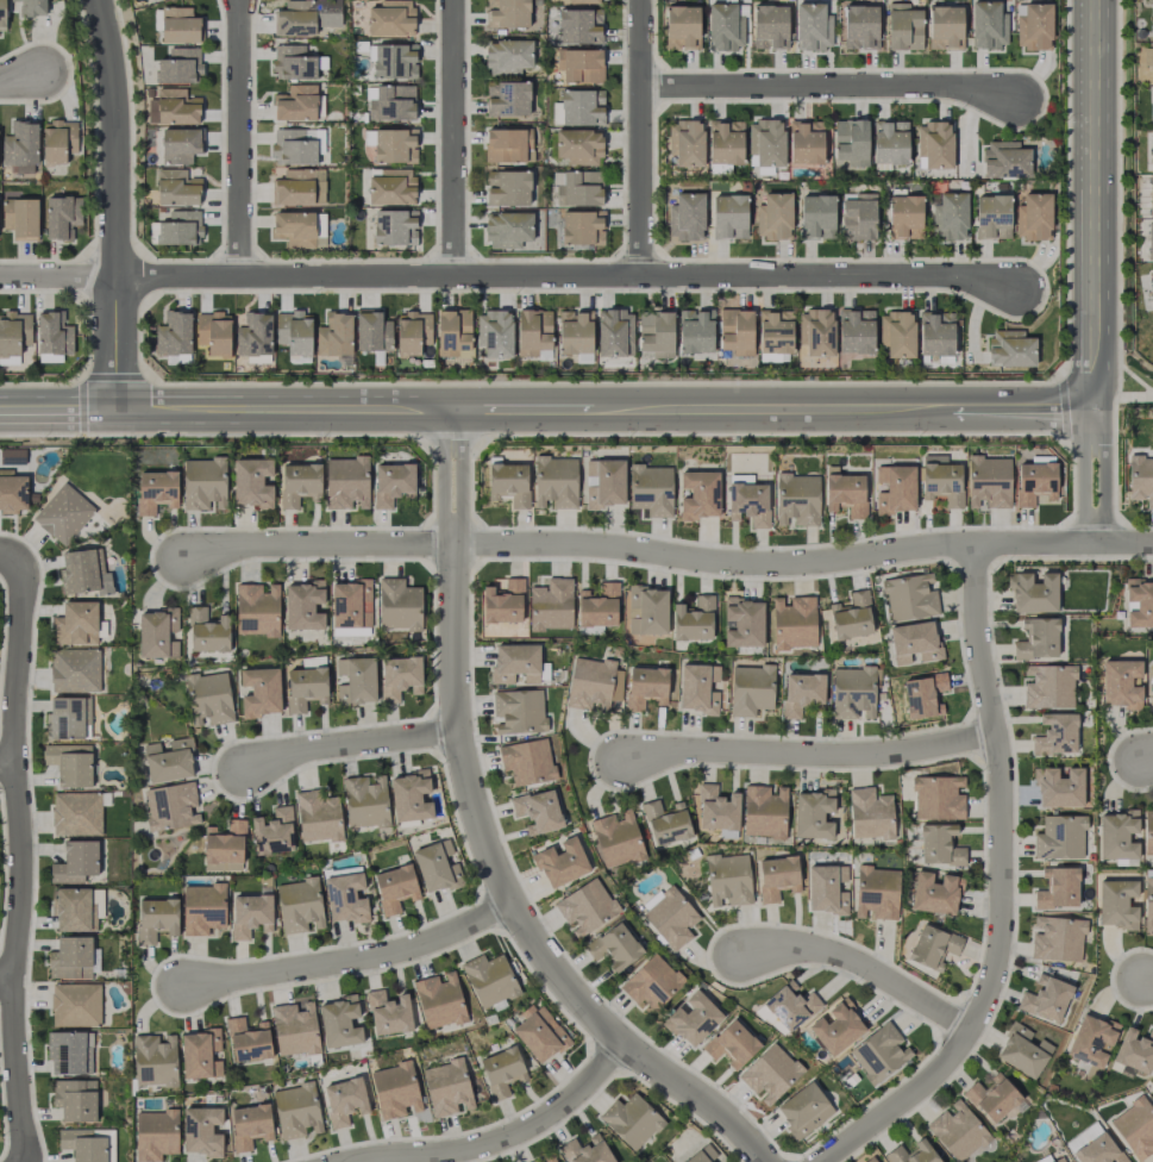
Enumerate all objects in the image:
building: (150, 0)
building: (584, 1)
building: (31, 7)
building: (507, 13)
building: (2, 17)
building: (295, 18)
building: (391, 18)
building: (1152, 18)
building: (178, 25)
building: (988, 25)
building: (1033, 25)
building: (579, 26)
building: (726, 26)
building: (770, 26)
building: (813, 26)
building: (860, 26)
building: (682, 27)
building: (904, 27)
building: (945, 27)
building: (508, 56)
building: (395, 61)
building: (293, 62)
building: (1151, 63)
building: (582, 65)
building: (178, 67)
road: (20, 76)
road: (828, 87)
building: (507, 98)
building: (1152, 101)
building: (390, 102)
building: (296, 104)
building: (176, 106)
building: (582, 107)
road: (640, 137)
road: (239, 138)
road: (452, 138)
building: (58, 140)
building: (725, 142)
building: (766, 142)
building: (806, 142)
building: (890, 142)
building: (687, 143)
building: (851, 143)
building: (935, 144)
building: (180, 145)
building: (394, 145)
building: (508, 145)
building: (20, 146)
building: (295, 146)
building: (578, 146)
building: (1152, 155)
building: (1005, 160)
building: (297, 186)
building: (391, 186)
building: (176, 187)
building: (508, 188)
building: (577, 188)
road: (1066, 188)
building: (1151, 195)
road: (1092, 204)
road: (115, 205)
building: (61, 215)
building: (773, 215)
building: (817, 215)
building: (858, 215)
building: (685, 217)
building: (729, 217)
building: (906, 217)
building: (950, 217)
building: (992, 217)
building: (1034, 217)
building: (20, 218)
building: (394, 226)
building: (180, 227)
building: (582, 227)
building: (294, 229)
building: (507, 230)
building: (1149, 240)
road: (1118, 257)
road: (507, 275)
building: (1152, 280)
building: (372, 331)
building: (533, 331)
building: (737, 331)
building: (776, 331)
building: (856, 331)
building: (294, 332)
building: (413, 332)
building: (495, 332)
building: (575, 332)
building: (615, 332)
building: (816, 332)
building: (174, 333)
building: (213, 333)
building: (453, 333)
building: (656, 333)
building: (897, 333)
building: (255, 335)
building: (336, 335)
building: (13, 336)
building: (935, 336)
building: (52, 337)
building: (1010, 348)
road: (84, 379)
road: (603, 381)
road: (40, 383)
road: (1123, 396)
road: (1021, 407)
road: (1063, 407)
road: (521, 410)
road: (772, 410)
road: (282, 411)
road: (57, 412)
road: (769, 433)
road: (213, 435)
road: (449, 442)
building: (934, 458)
road: (1083, 475)
road: (1104, 475)
building: (1141, 479)
building: (252, 482)
building: (346, 482)
building: (556, 482)
building: (603, 482)
building: (989, 482)
building: (1035, 482)
building: (203, 483)
building: (299, 483)
building: (509, 483)
building: (942, 483)
building: (651, 489)
building: (895, 489)
building: (156, 491)
building: (12, 492)
building: (845, 492)
building: (700, 495)
building: (797, 499)
building: (748, 501)
building: (63, 513)
road: (10, 555)
road: (668, 556)
building: (83, 571)
building: (1033, 593)
building: (910, 596)
building: (502, 602)
building: (1139, 602)
building: (303, 605)
building: (351, 605)
building: (399, 605)
building: (551, 605)
building: (597, 606)
building: (257, 610)
building: (647, 610)
building: (851, 617)
building: (694, 619)
building: (742, 621)
building: (76, 623)
building: (794, 623)
building: (208, 631)
building: (157, 633)
building: (1036, 639)
building: (915, 643)
building: (515, 663)
building: (75, 670)
building: (400, 676)
building: (356, 680)
building: (306, 683)
building: (593, 683)
building: (1121, 683)
building: (1048, 686)
building: (1151, 686)
building: (645, 687)
building: (697, 688)
building: (751, 689)
building: (261, 692)
building: (801, 693)
building: (853, 693)
building: (923, 695)
building: (209, 696)
building: (518, 711)
building: (68, 718)
building: (1055, 733)
road: (350, 744)
road: (809, 754)
road: (1146, 756)
building: (169, 761)
building: (527, 762)
building: (70, 763)
road: (8, 775)
building: (1059, 788)
building: (411, 796)
building: (938, 798)
building: (365, 801)
building: (171, 806)
building: (718, 808)
building: (538, 811)
building: (764, 811)
building: (76, 813)
building: (813, 813)
building: (870, 813)
building: (318, 817)
building: (665, 823)
building: (1148, 831)
building: (272, 832)
building: (1117, 835)
building: (1060, 837)
building: (616, 838)
road: (487, 839)
building: (940, 845)
building: (224, 846)
road: (19, 858)
building: (75, 862)
building: (560, 863)
building: (437, 866)
building: (777, 877)
building: (728, 880)
building: (395, 887)
building: (1058, 888)
building: (826, 889)
road: (1003, 891)
building: (877, 892)
building: (934, 893)
building: (345, 899)
building: (1116, 904)
building: (1148, 905)
building: (300, 906)
building: (585, 907)
building: (76, 908)
building: (202, 908)
building: (250, 914)
building: (670, 917)
building: (156, 918)
building: (1057, 938)
building: (614, 947)
building: (933, 947)
building: (70, 957)
road: (352, 958)
road: (859, 963)
road: (1149, 976)
road: (7, 980)
building: (489, 980)
building: (652, 982)
building: (1046, 999)
building: (439, 1000)
building: (75, 1005)
building: (790, 1006)
building: (388, 1013)
building: (693, 1018)
building: (339, 1023)
building: (836, 1027)
building: (294, 1029)
building: (540, 1035)
building: (247, 1039)
building: (1091, 1041)
building: (732, 1044)
building: (1135, 1050)
building: (1022, 1051)
building: (69, 1052)
building: (879, 1052)
building: (155, 1060)
building: (502, 1070)
building: (770, 1074)
building: (447, 1088)
building: (395, 1091)
building: (992, 1098)
building: (75, 1099)
building: (344, 1100)
building: (803, 1110)
building: (296, 1111)
building: (631, 1120)
building: (250, 1125)
building: (1135, 1127)
building: (201, 1131)
building: (957, 1131)
building: (155, 1135)
road: (495, 1139)
building: (86, 1145)
building: (587, 1150)
building: (1098, 1150)
building: (913, 1152)
building: (704, 1155)
building: (545, 1158)
building: (870, 1160)
building: (1059, 1160)

